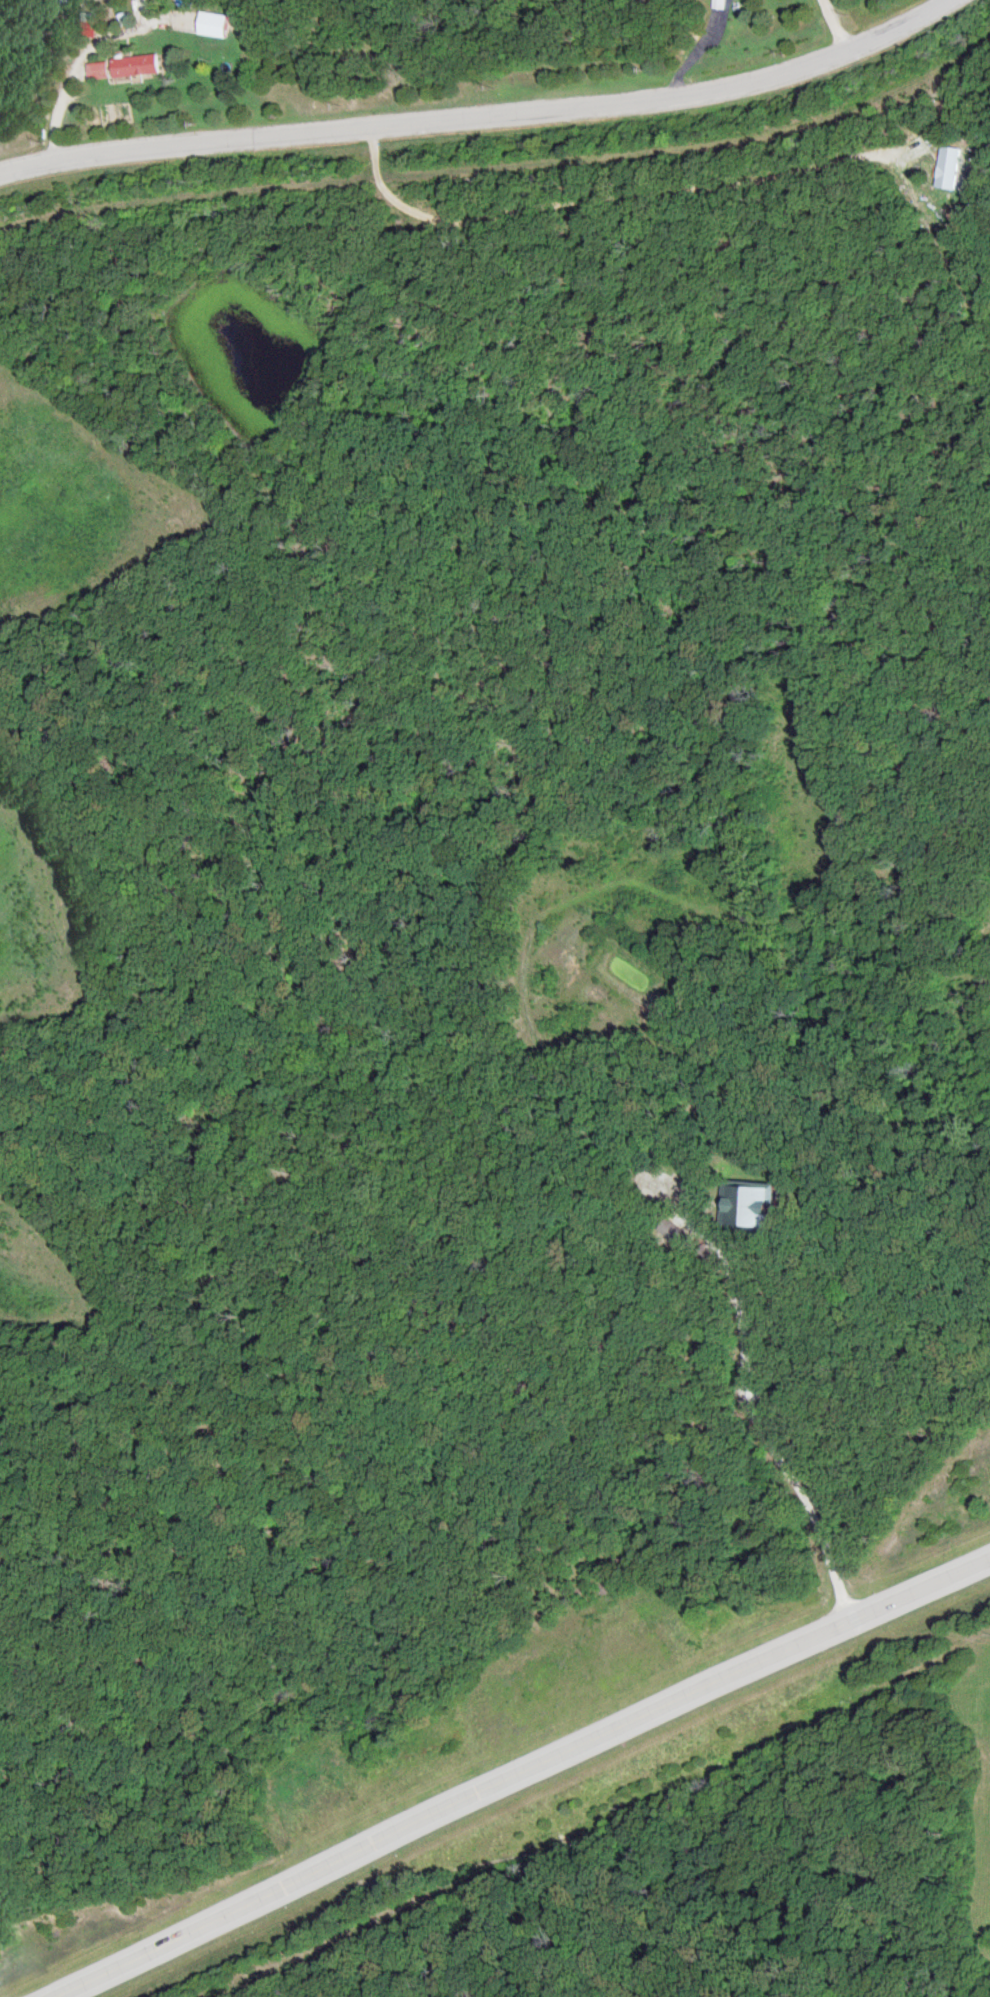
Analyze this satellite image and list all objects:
building: (215, 24)
road: (833, 26)
road: (482, 114)
railway: (503, 164)
building: (949, 168)
road: (615, 195)
building: (752, 1208)
road: (516, 1773)

